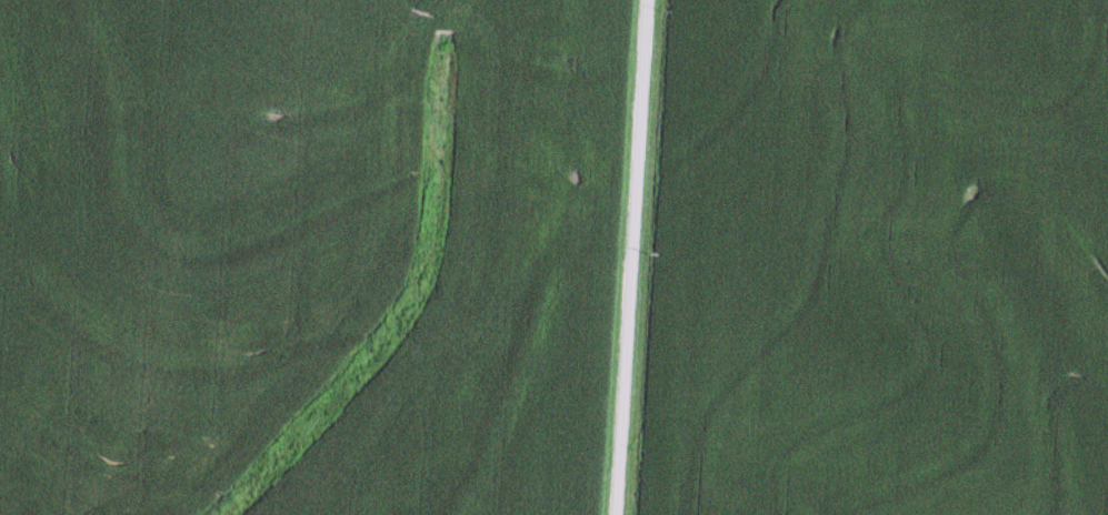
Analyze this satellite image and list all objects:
road: (635, 257)

